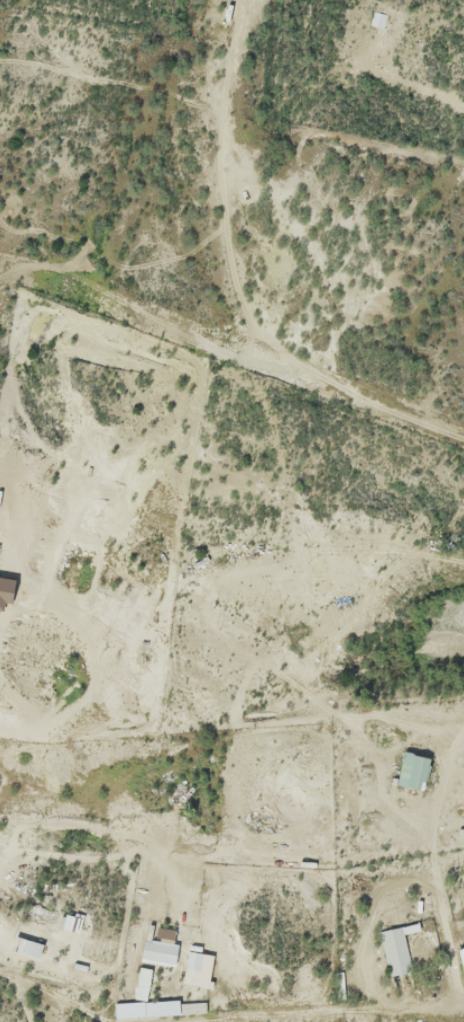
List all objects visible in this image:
building: (412, 771)
building: (158, 952)
building: (461, 959)
building: (193, 961)
building: (141, 983)

